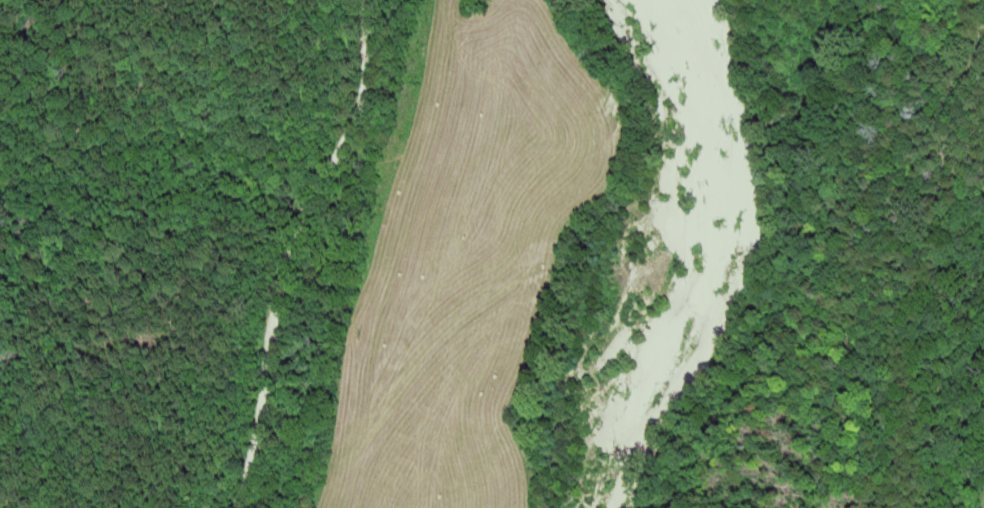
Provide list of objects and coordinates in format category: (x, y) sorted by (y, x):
road: (298, 250)

